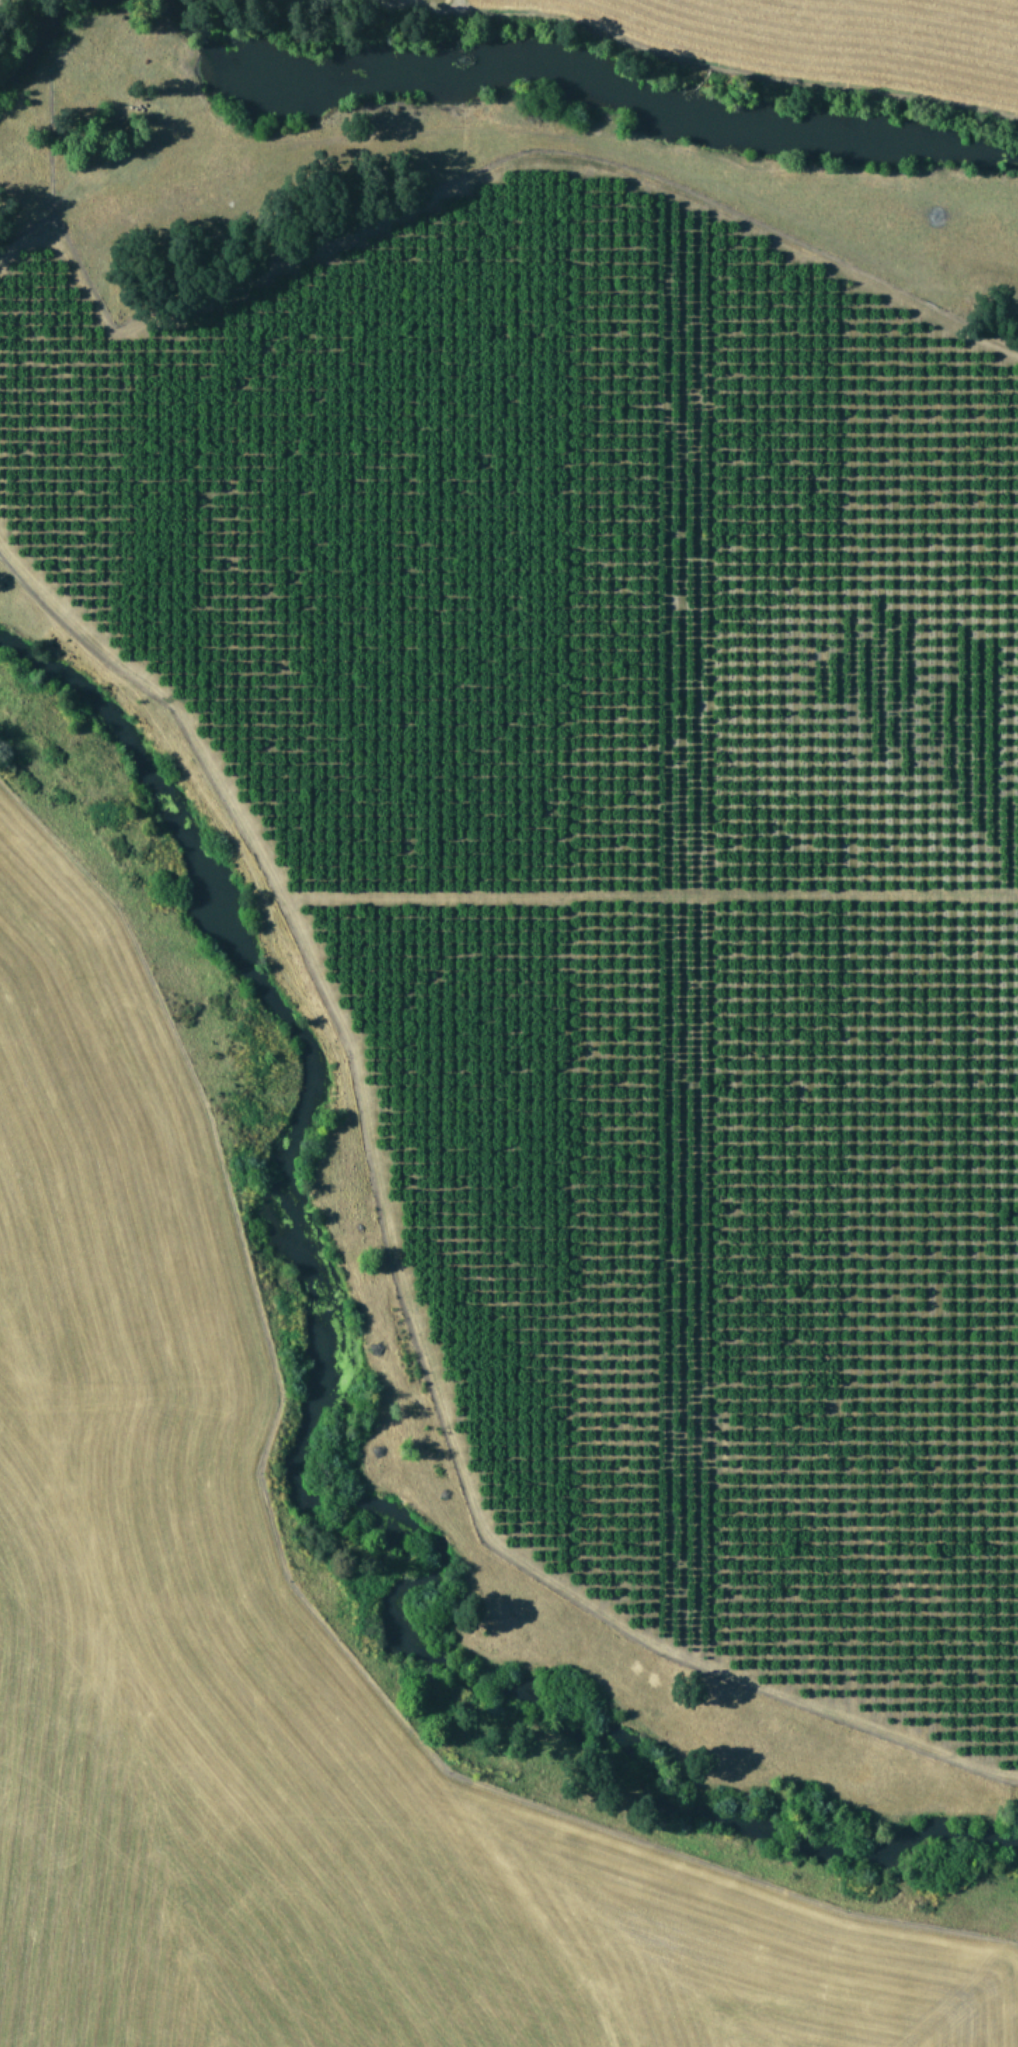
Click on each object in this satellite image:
crop: (821, 37)
crop: (303, 1659)

